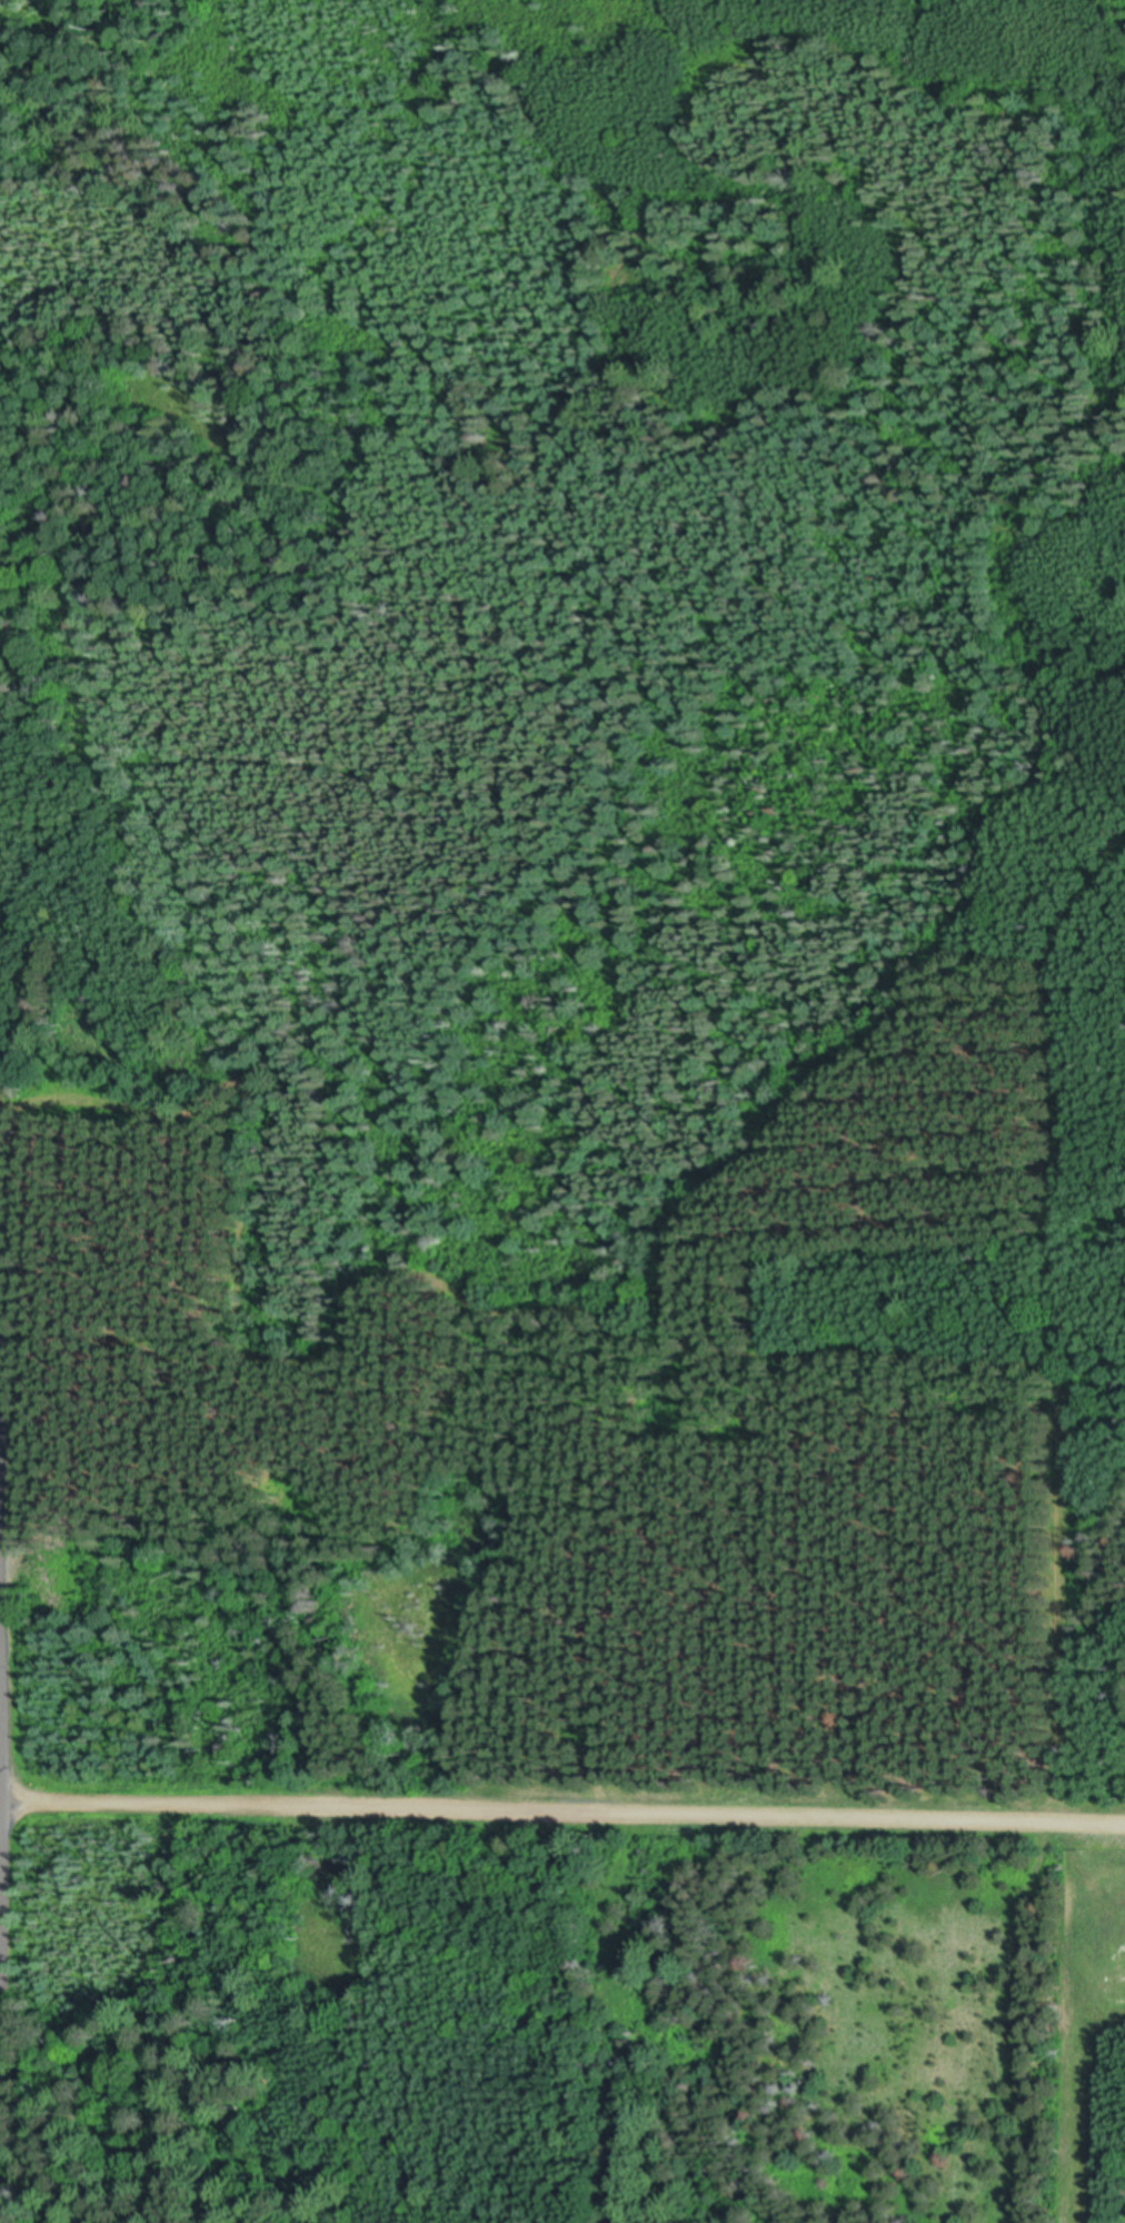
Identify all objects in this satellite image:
road: (561, 1813)

